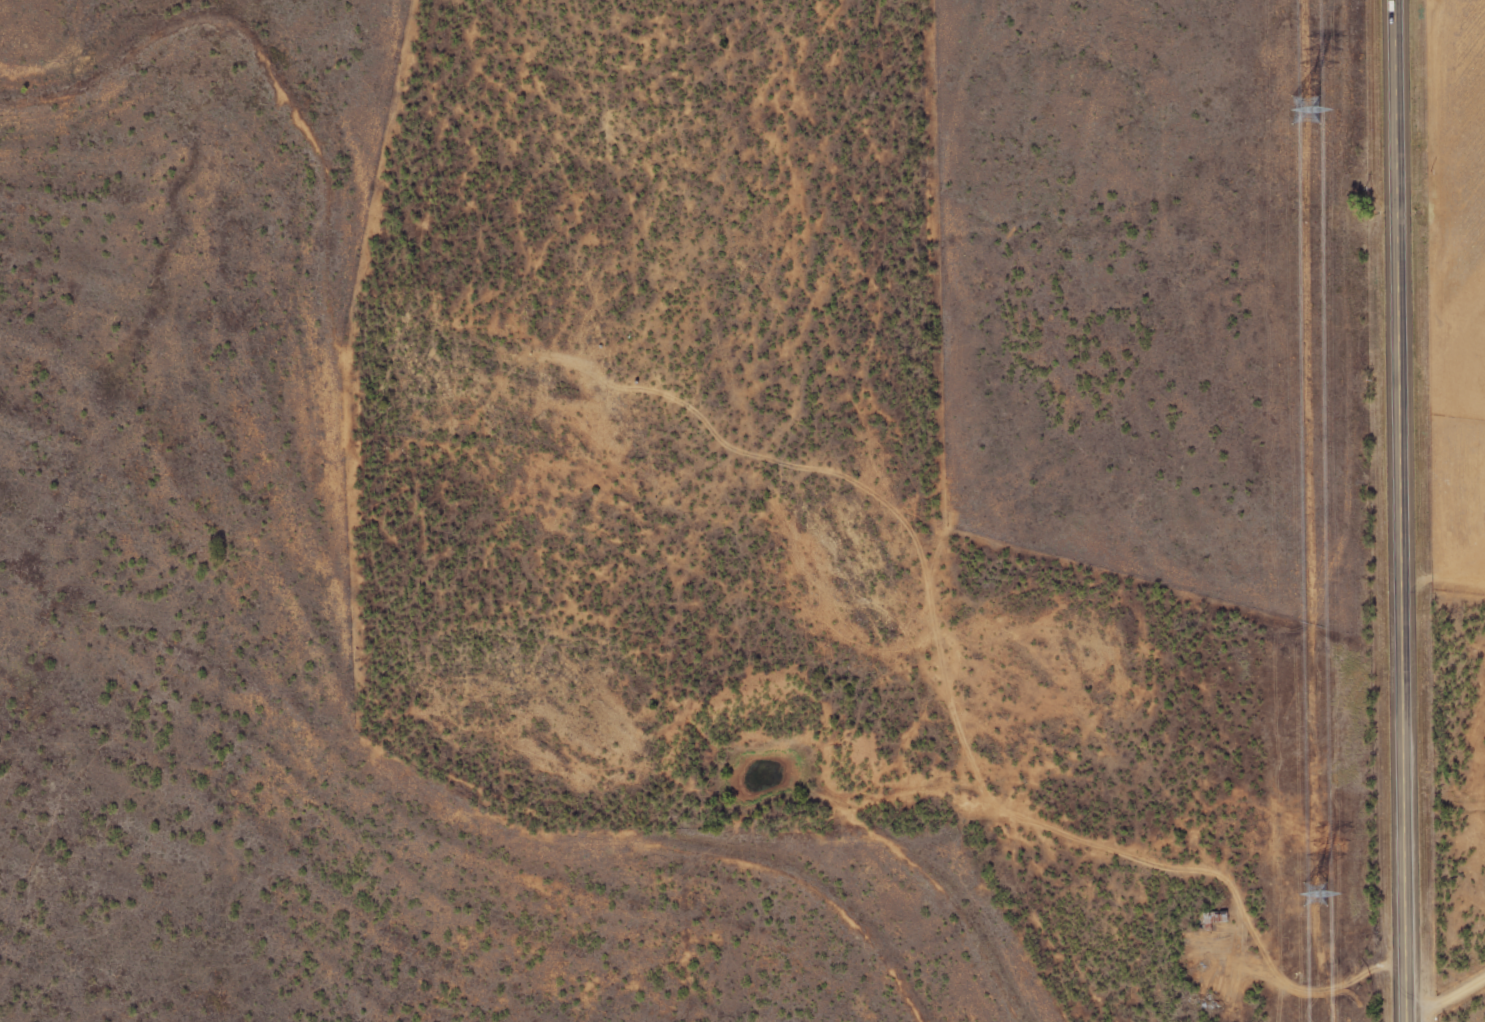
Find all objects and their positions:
power tower: (1303, 109)
road: (1405, 511)
power tower: (1312, 893)
road: (1473, 1014)

